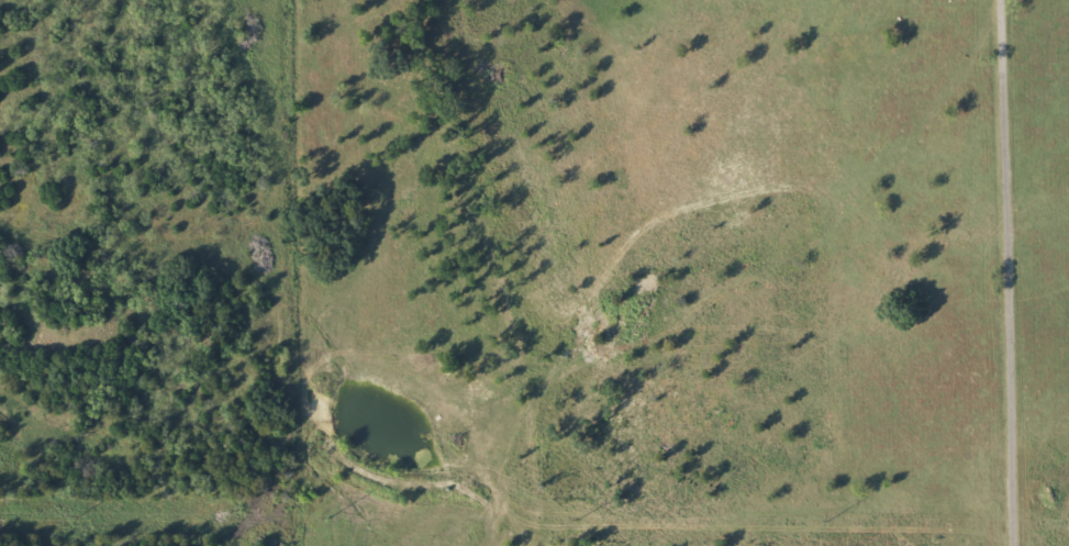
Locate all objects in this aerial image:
road: (1003, 272)

